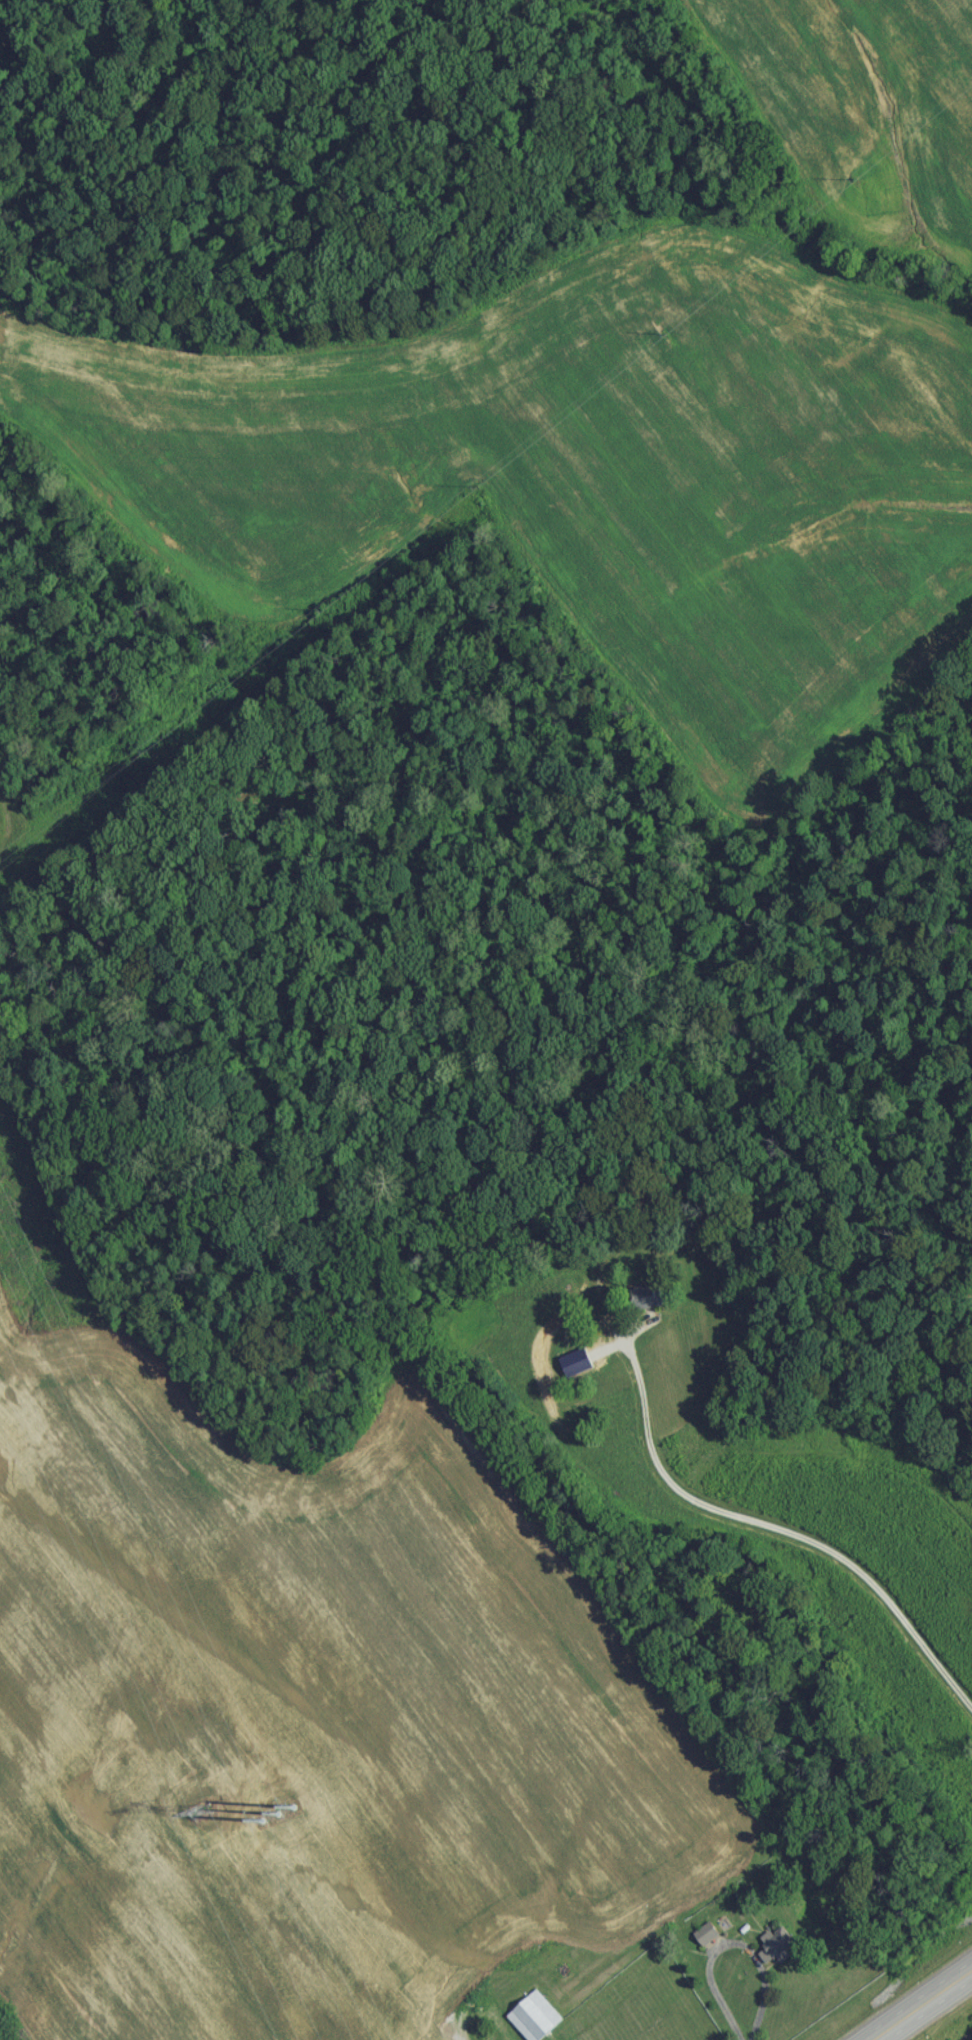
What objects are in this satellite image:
road: (777, 1536)
power tower: (266, 1790)
power tower: (204, 1817)
road: (922, 2005)
building: (538, 2021)

